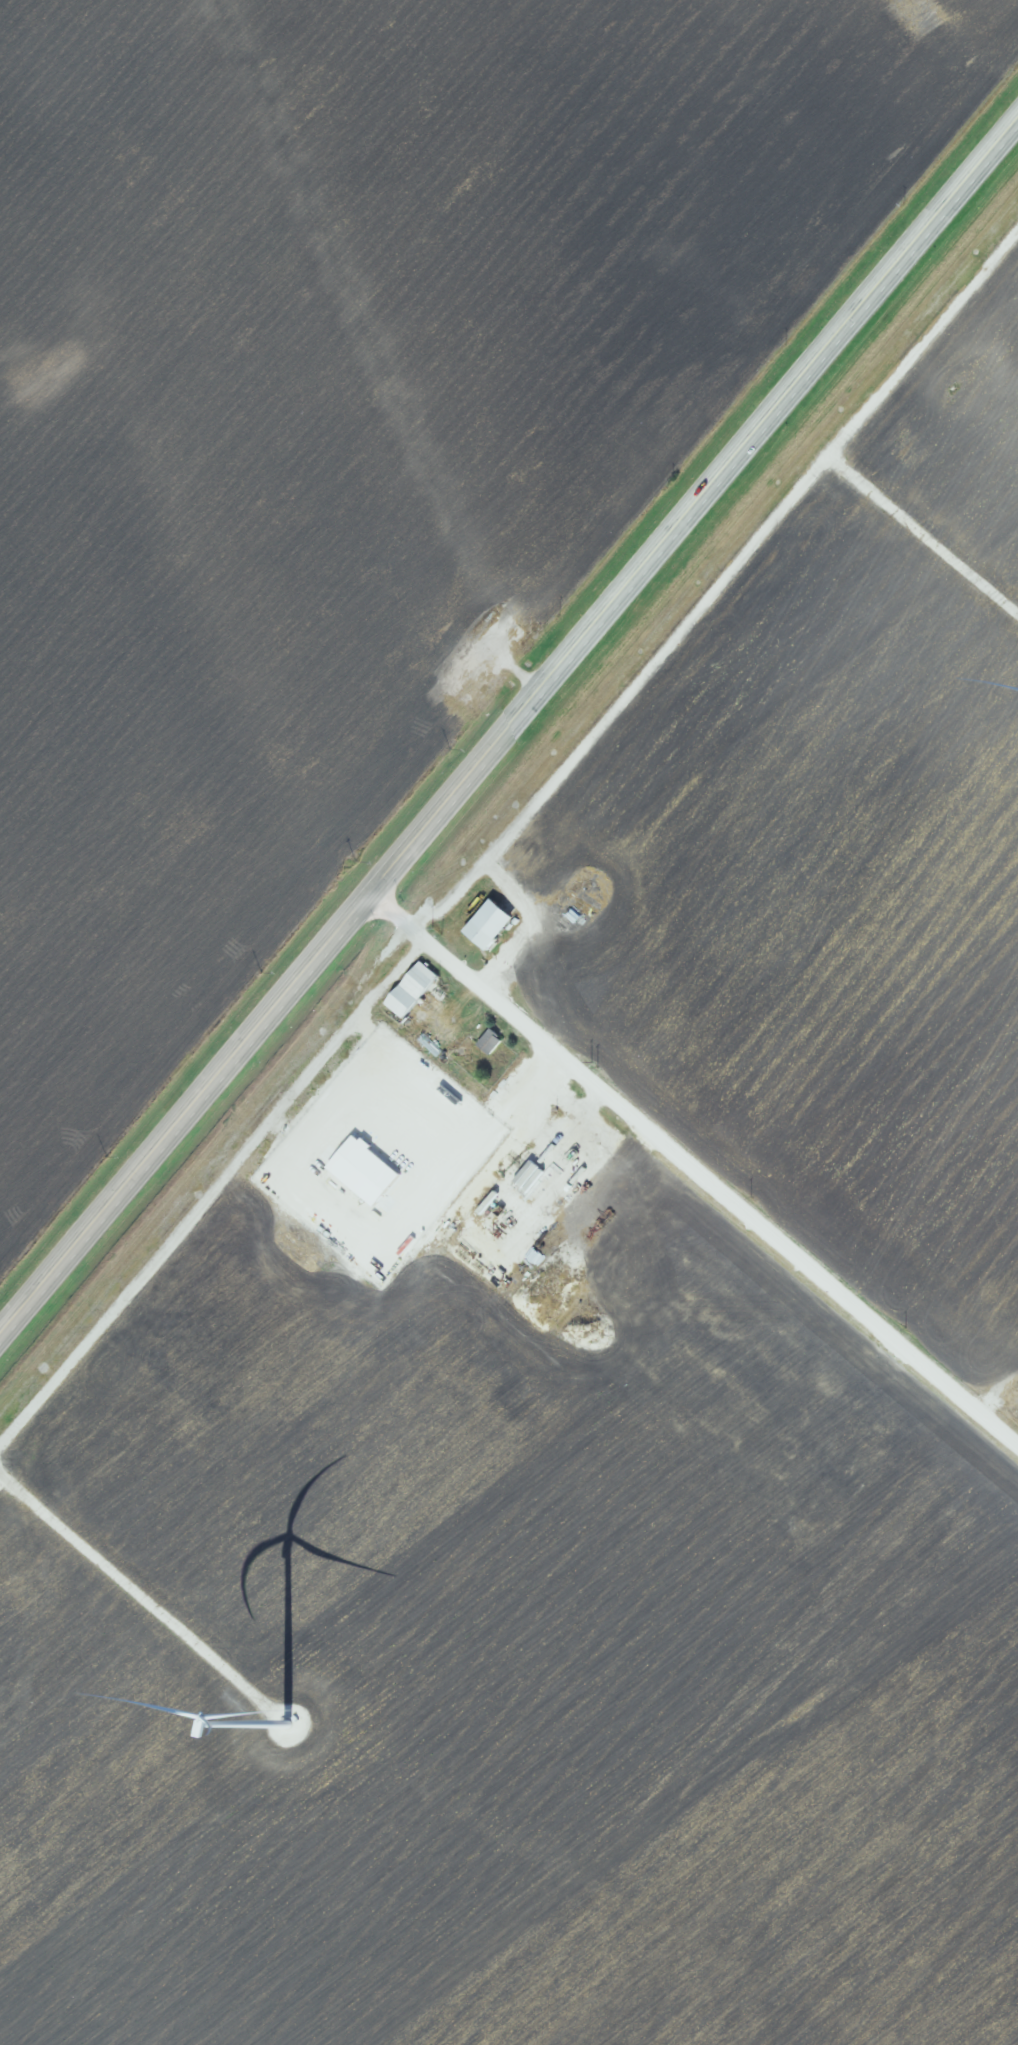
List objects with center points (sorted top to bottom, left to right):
road: (383, 352)
road: (781, 416)
railway: (509, 812)
building: (486, 930)
building: (412, 990)
road: (272, 1027)
building: (490, 1041)
road: (694, 1190)
wind turbine: (287, 1732)

